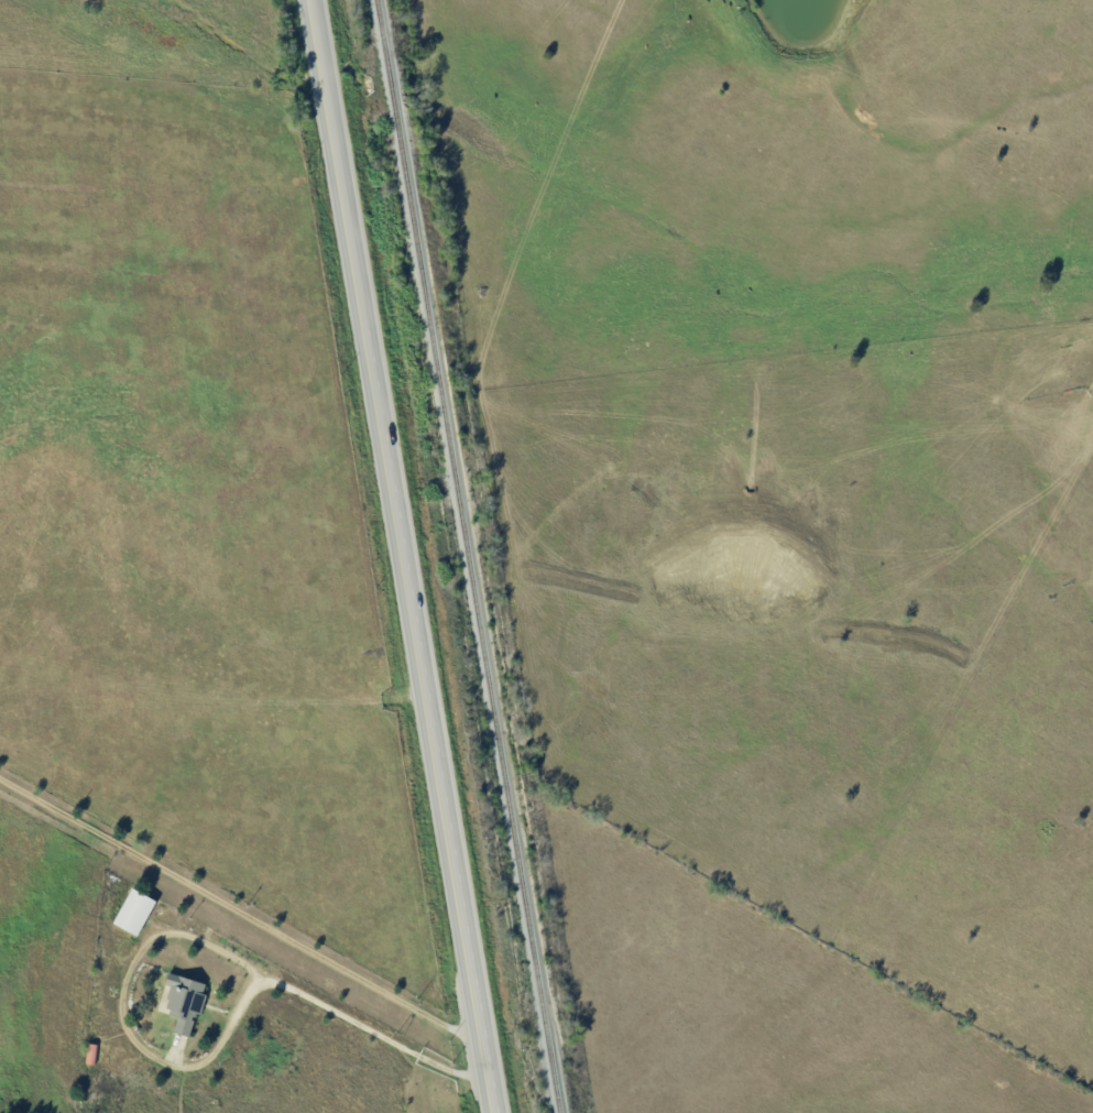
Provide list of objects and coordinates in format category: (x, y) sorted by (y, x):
road: (404, 556)
railway: (469, 556)
road: (241, 909)
building: (136, 910)
road: (186, 931)
building: (185, 1001)

